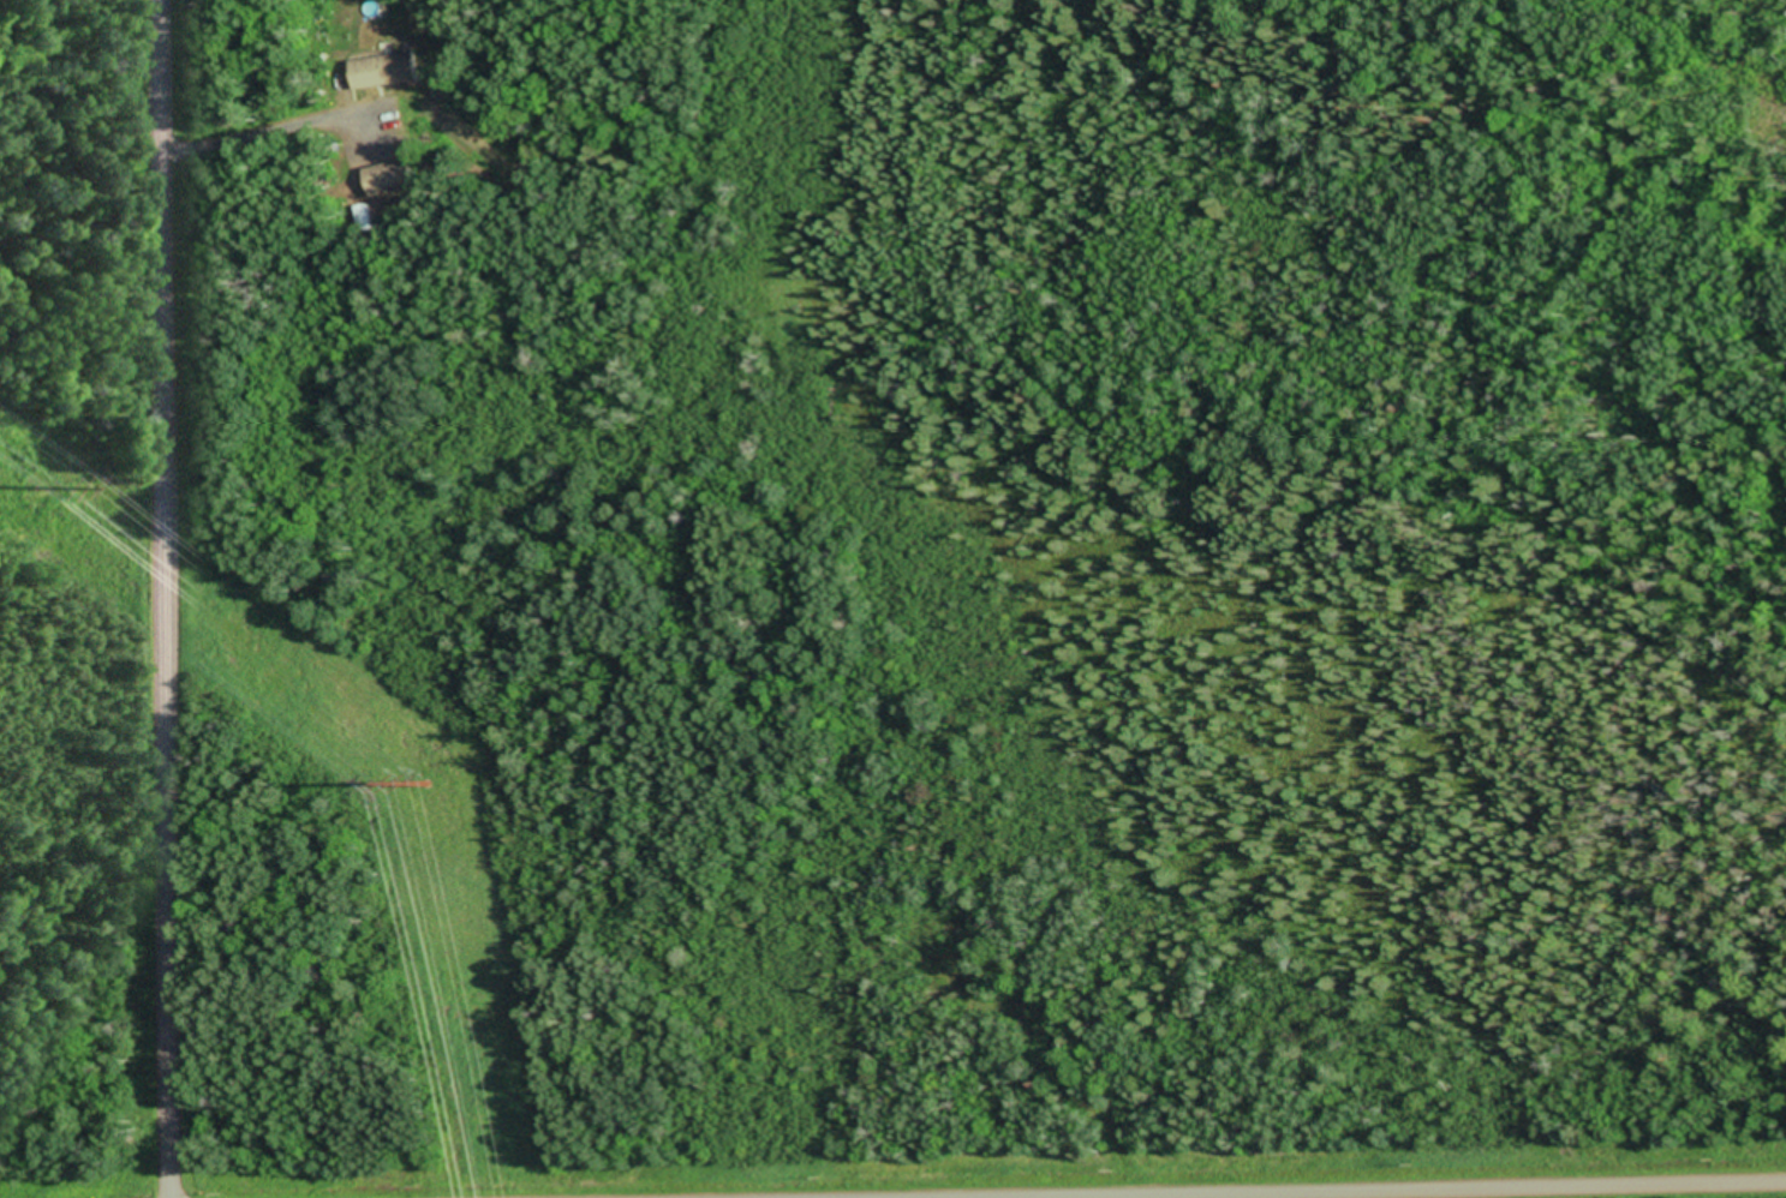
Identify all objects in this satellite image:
building: (381, 74)
building: (389, 180)
power tower: (36, 489)
road: (167, 598)
power tower: (429, 785)
road: (1483, 1192)

